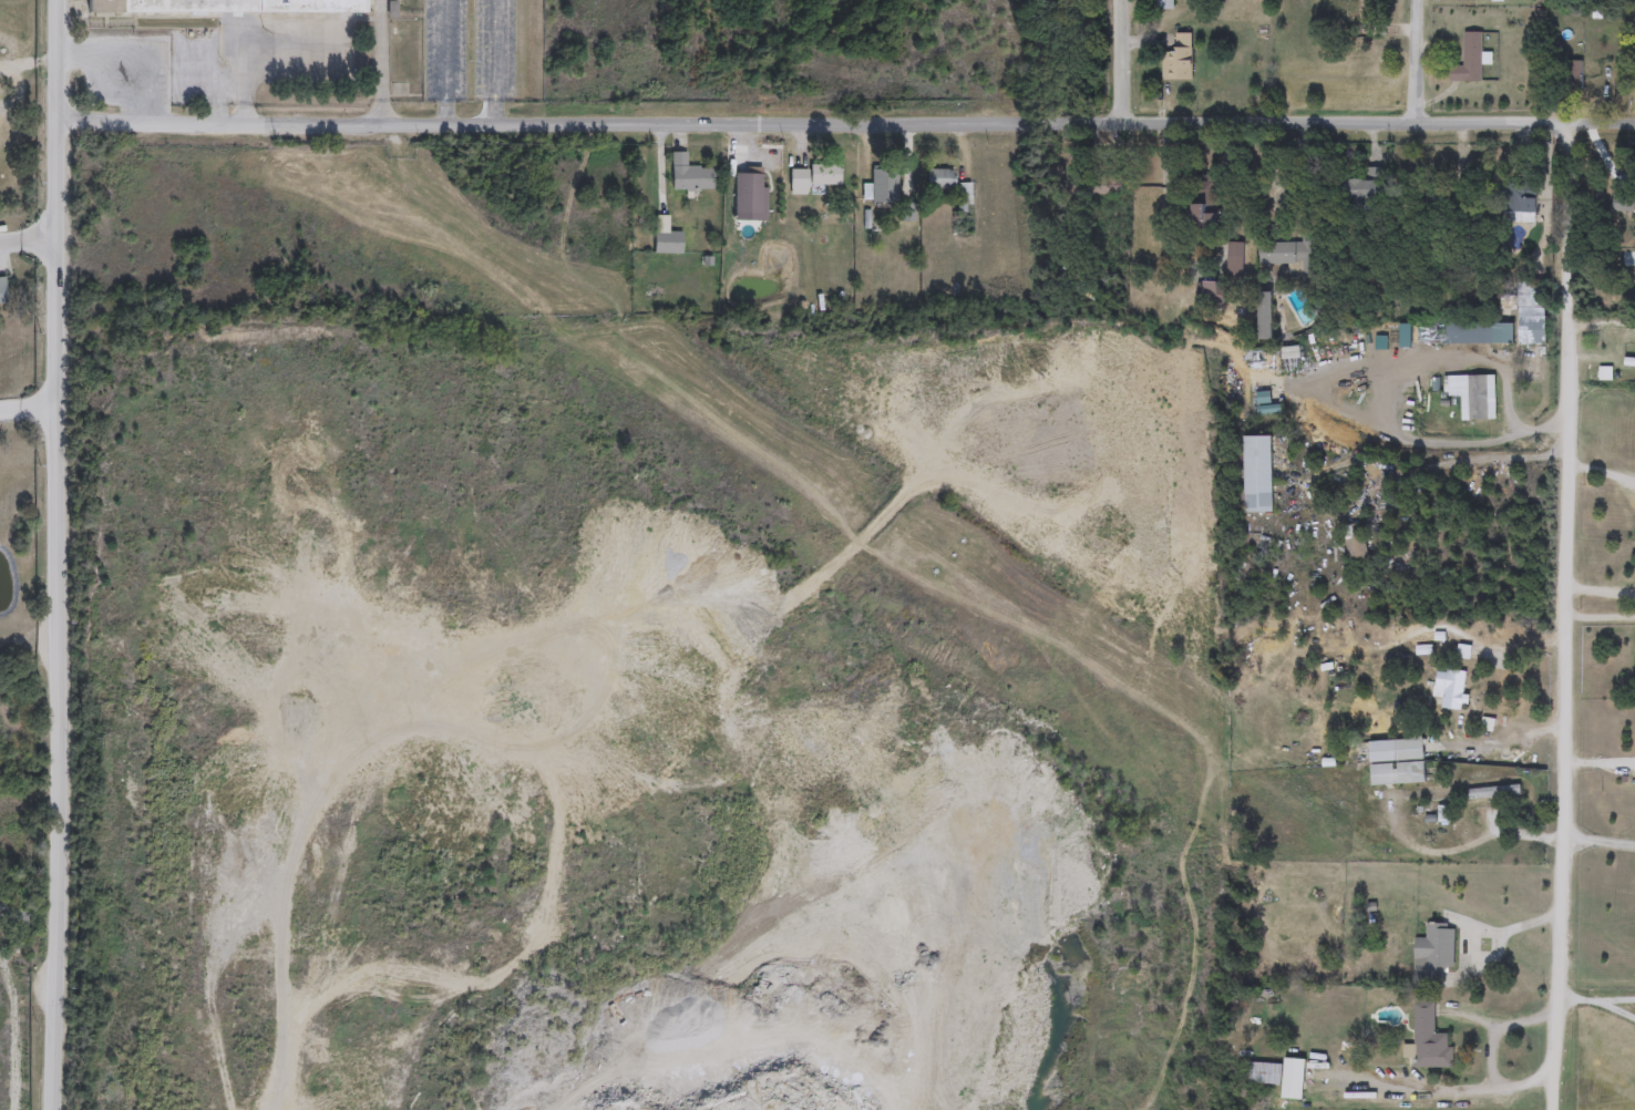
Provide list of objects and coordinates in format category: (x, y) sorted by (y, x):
building: (1163, 6)
building: (223, 7)
building: (1367, 18)
road: (246, 44)
road: (58, 60)
building: (1178, 60)
building: (1469, 60)
road: (382, 62)
road: (446, 62)
road: (497, 62)
road: (1118, 62)
road: (1413, 62)
road: (116, 65)
building: (1569, 75)
road: (845, 122)
road: (1273, 167)
building: (689, 174)
building: (813, 176)
building: (884, 176)
building: (940, 178)
building: (1106, 184)
building: (1365, 192)
building: (964, 194)
building: (1519, 197)
road: (29, 238)
building: (668, 241)
building: (1286, 253)
building: (2, 290)
building: (1207, 292)
building: (1532, 312)
building: (1263, 315)
building: (1477, 333)
building: (1473, 395)
road: (1379, 401)
road: (29, 403)
road: (1372, 466)
road: (1600, 471)
building: (1257, 474)
building: (1355, 545)
road: (1601, 597)
road: (58, 615)
road: (1600, 615)
road: (1566, 617)
road: (1473, 639)
building: (1449, 688)
building: (1396, 762)
building: (1493, 793)
road: (1600, 839)
road: (1514, 928)
building: (1432, 954)
road: (1584, 998)
road: (1622, 999)
road: (1622, 1007)
road: (1502, 1024)
building: (1429, 1039)
building: (1263, 1073)
road: (1497, 1083)

